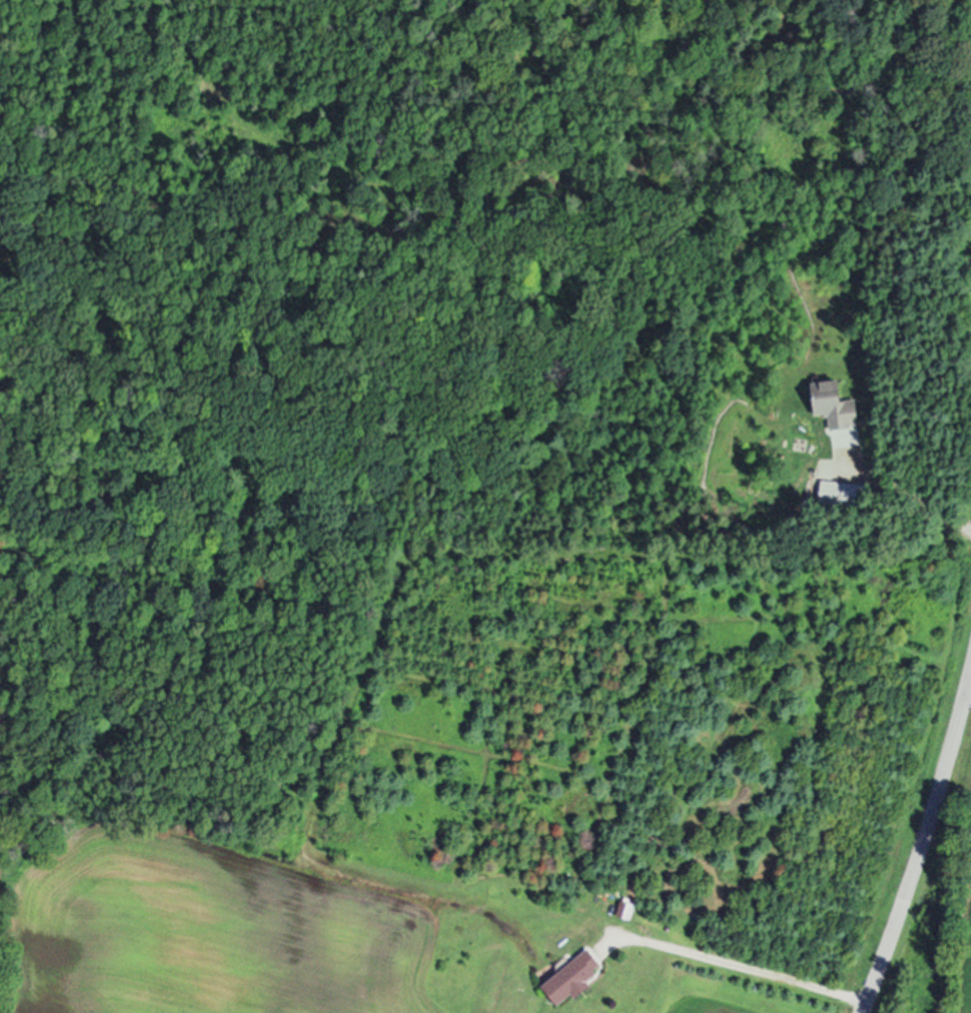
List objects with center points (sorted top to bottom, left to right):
building: (835, 404)
building: (842, 493)
road: (911, 506)
road: (970, 697)
road: (923, 852)
building: (625, 909)
road: (746, 970)
building: (573, 978)

